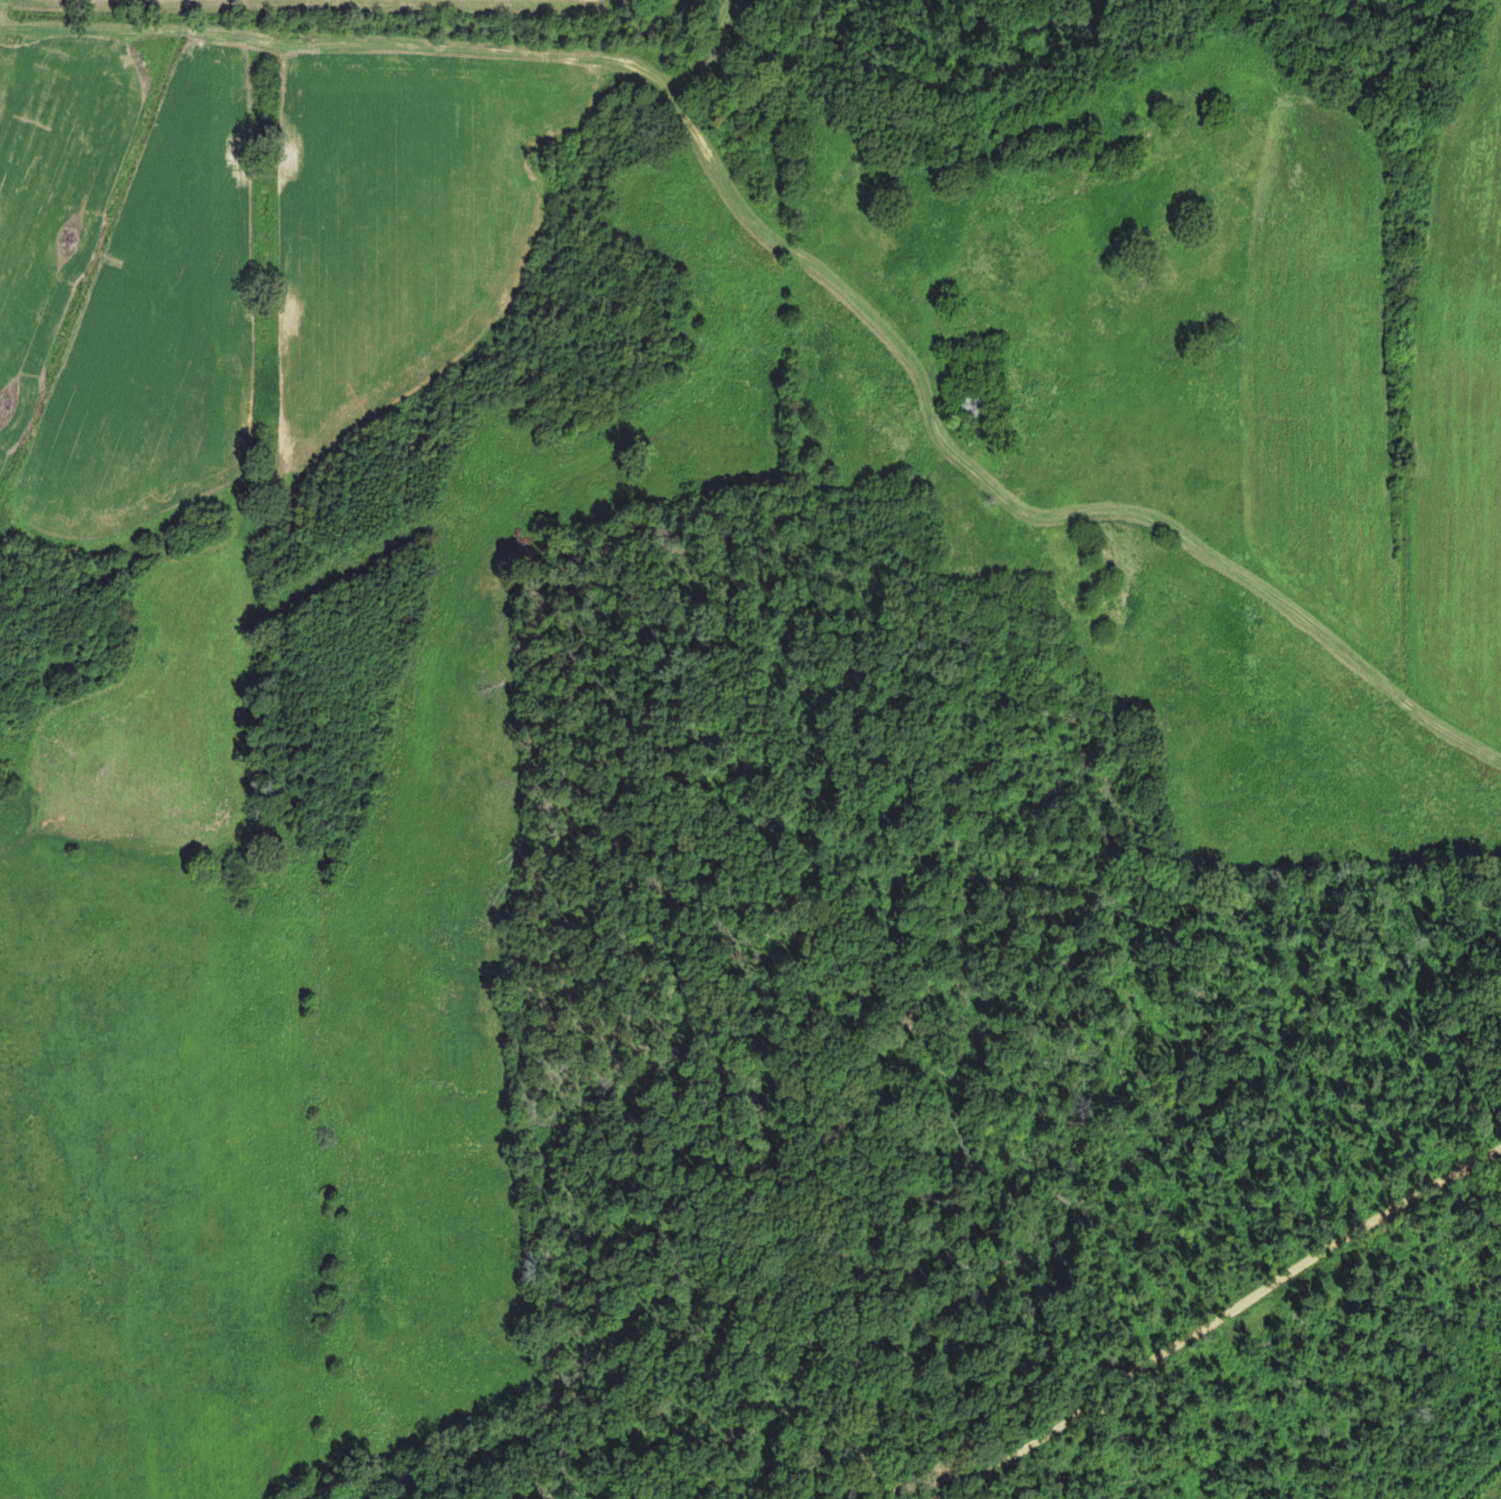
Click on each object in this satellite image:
building: (976, 403)
road: (1219, 564)
road: (1212, 1324)

